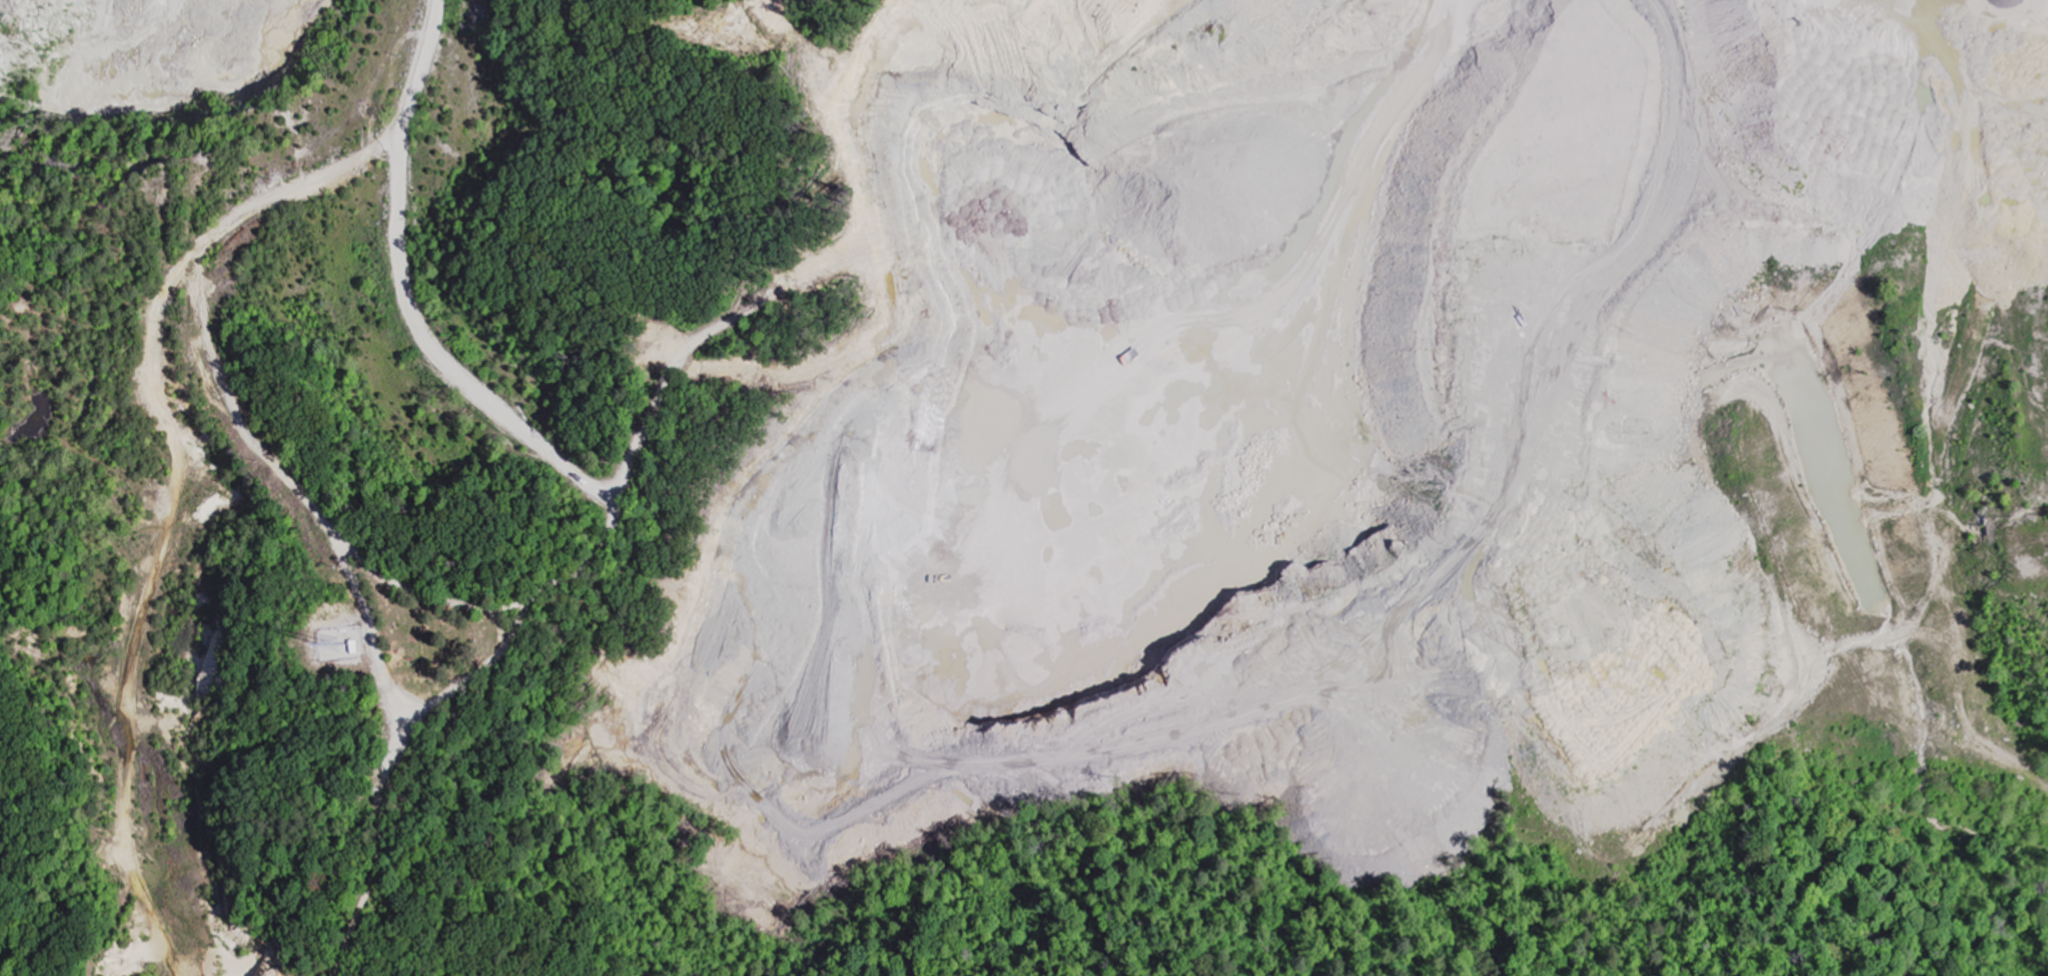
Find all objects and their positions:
road: (1306, 265)
road: (444, 355)
road: (659, 383)
road: (316, 518)
road: (372, 637)
park: (433, 638)

